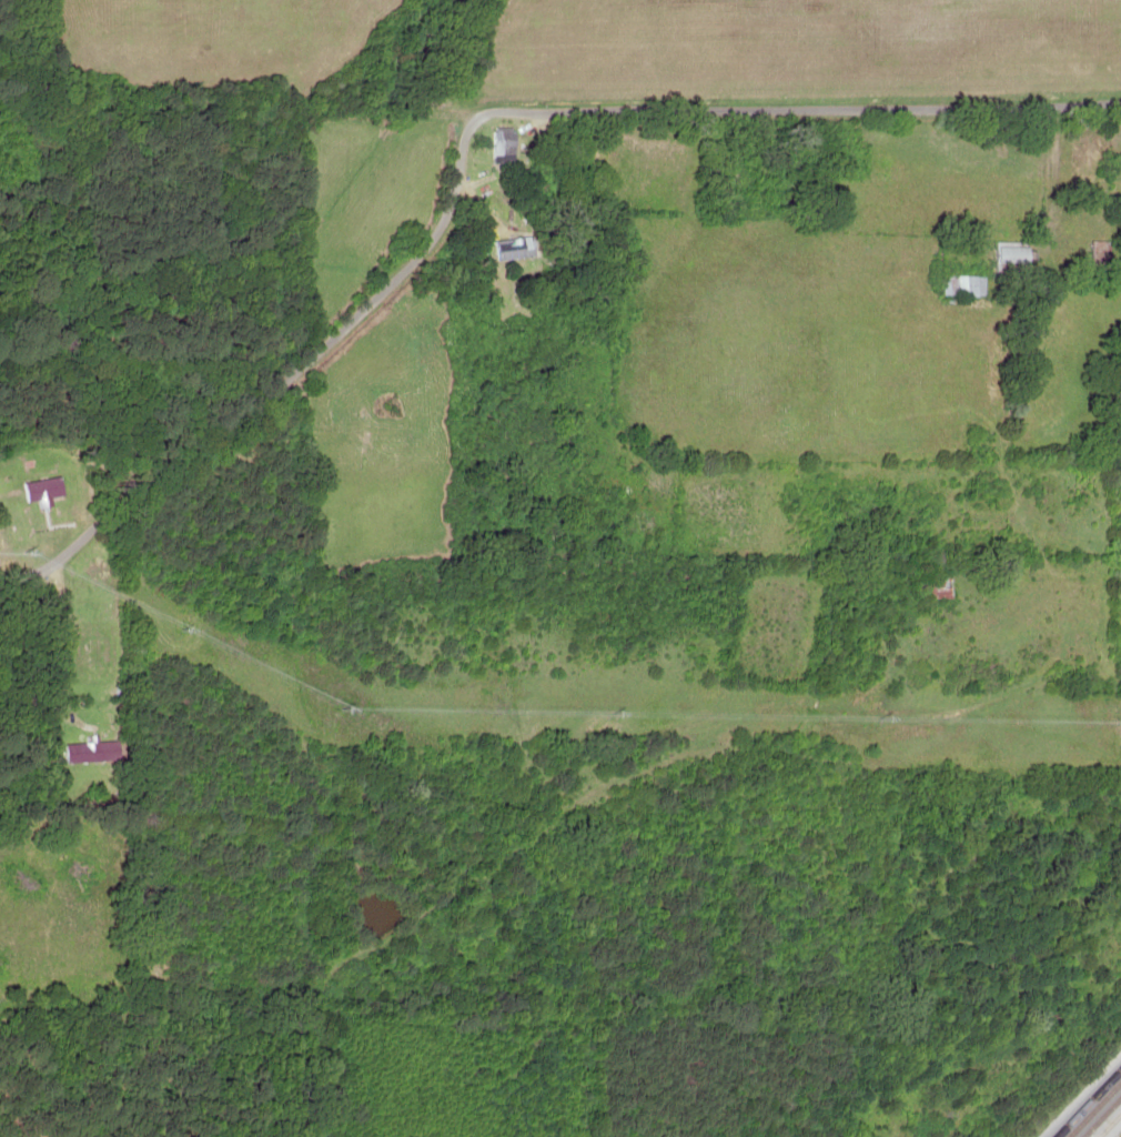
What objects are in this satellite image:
road: (493, 141)
building: (504, 144)
building: (514, 248)
building: (1100, 252)
building: (1012, 255)
building: (962, 284)
building: (941, 587)
building: (99, 657)
building: (92, 751)
railway: (1091, 1106)
railway: (1107, 1121)

